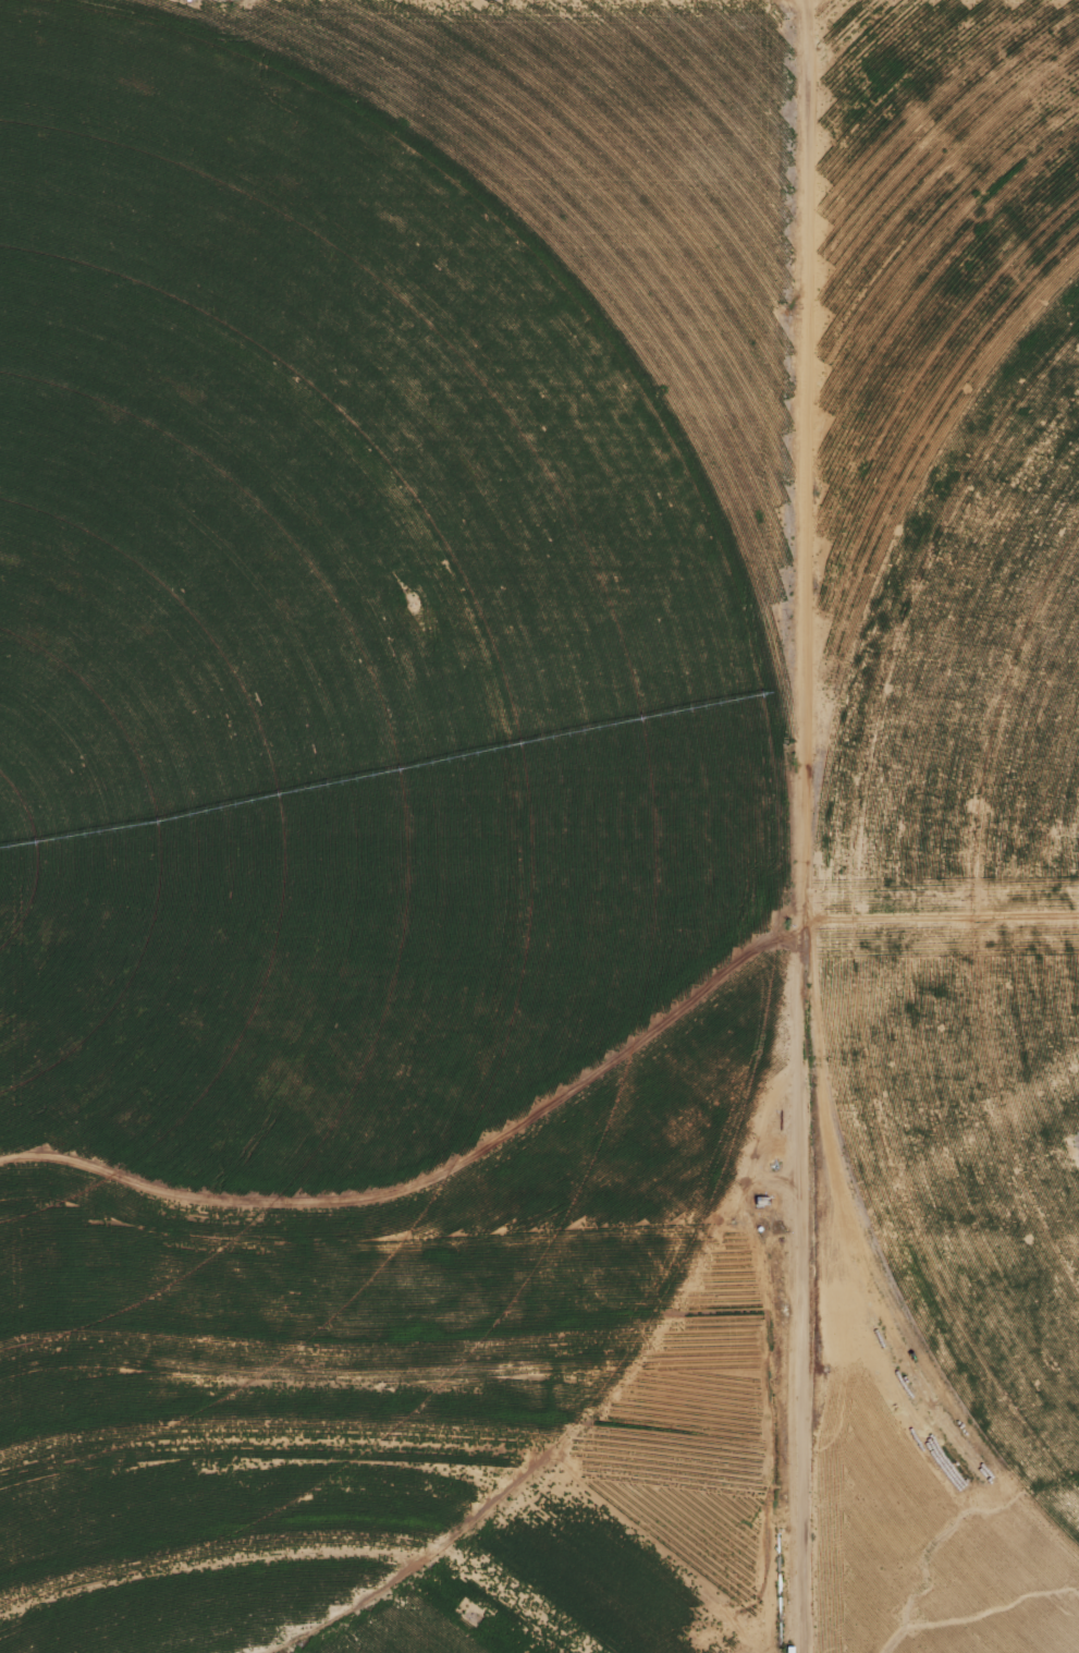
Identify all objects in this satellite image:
road: (800, 826)

